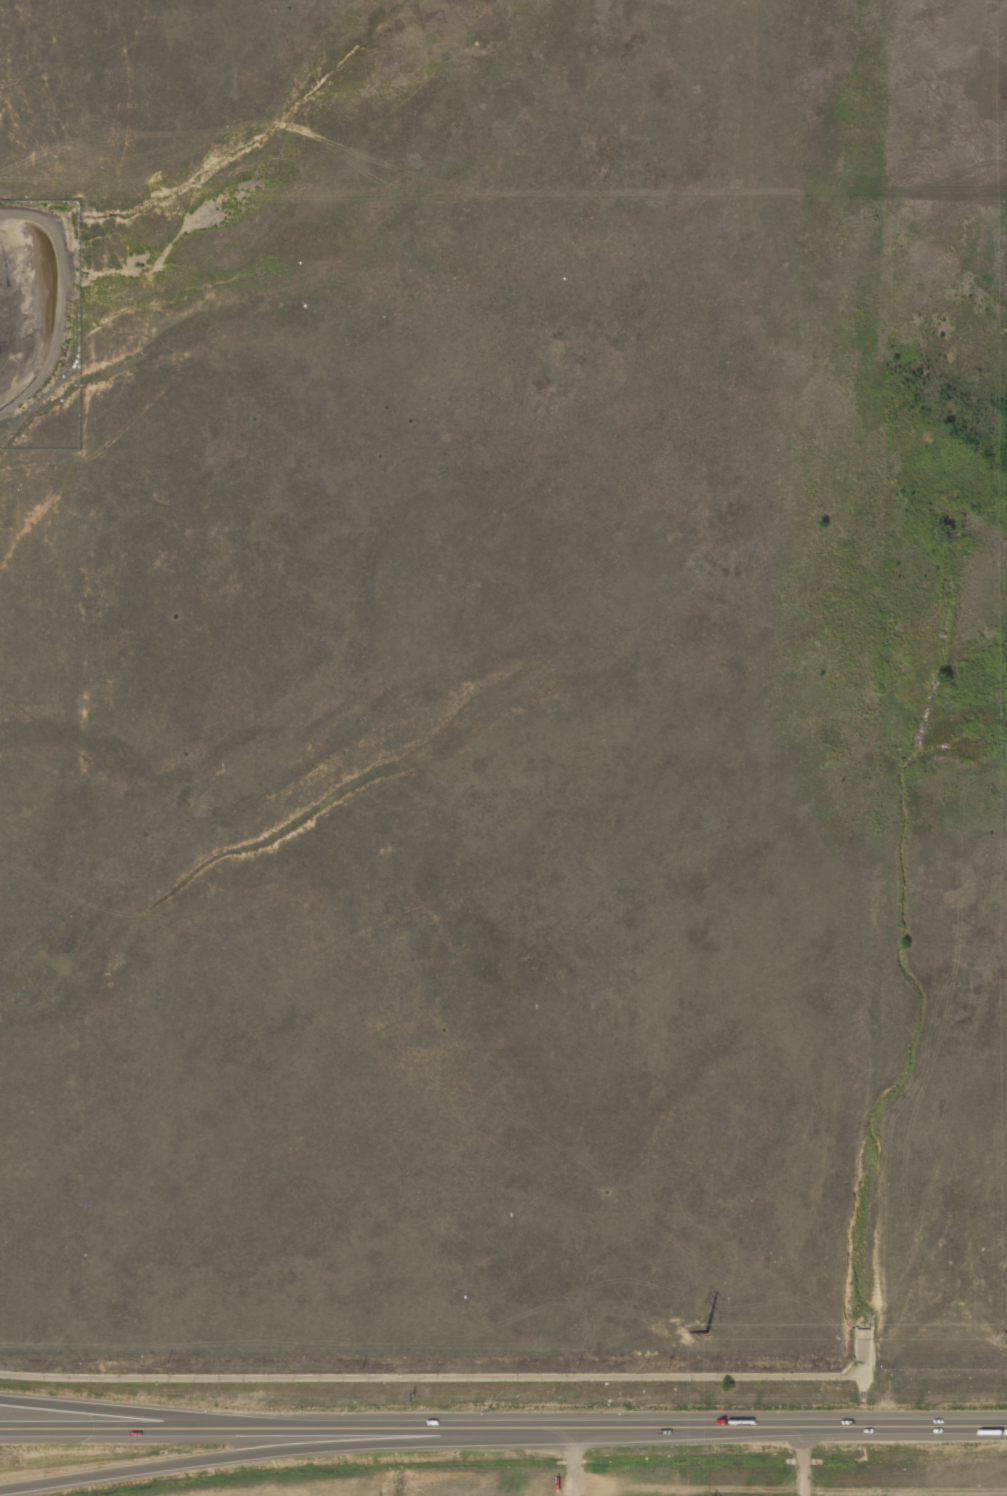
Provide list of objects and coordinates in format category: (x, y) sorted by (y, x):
power tower: (708, 1330)
road: (143, 1413)
road: (905, 1427)
road: (683, 1428)
road: (425, 1429)
road: (143, 1431)
road: (281, 1457)

